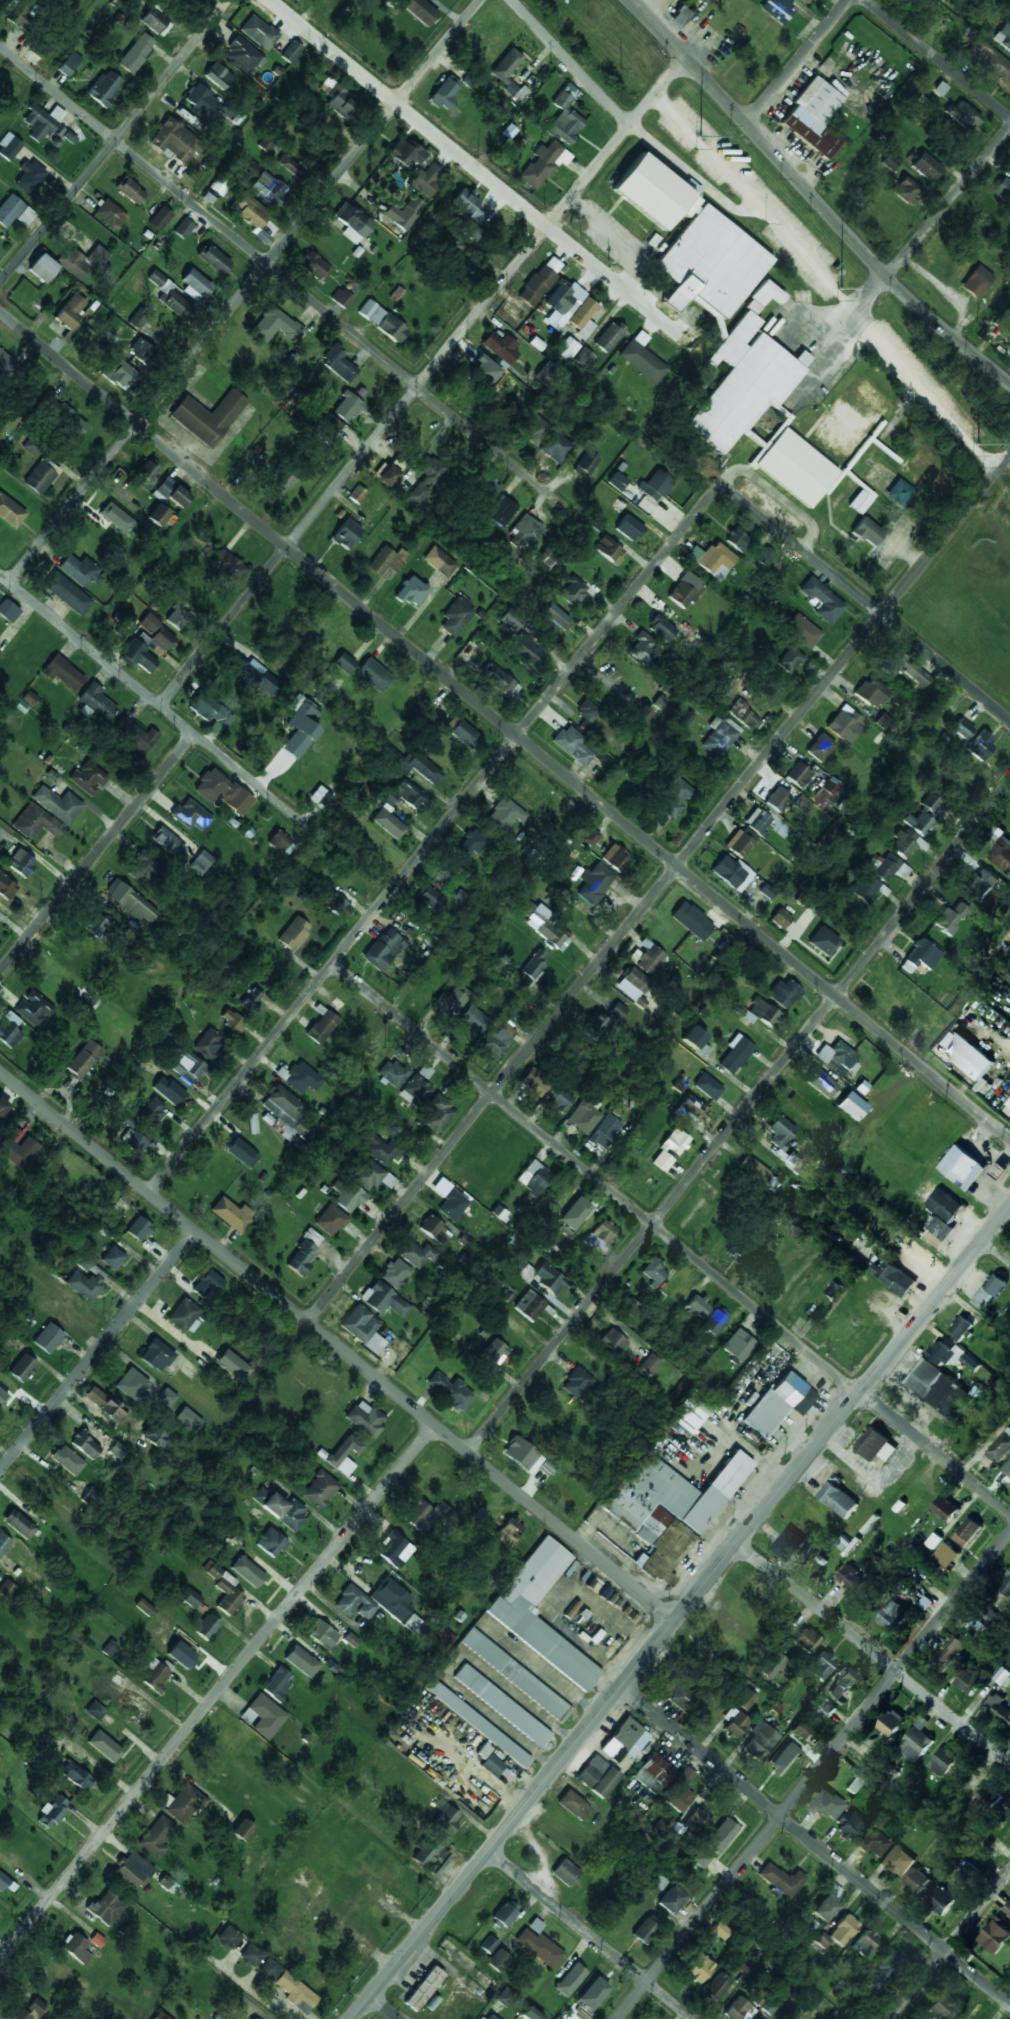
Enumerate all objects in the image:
building: (185, 0)
building: (806, 1)
building: (777, 9)
building: (420, 10)
building: (23, 14)
building: (680, 17)
building: (155, 23)
building: (259, 33)
building: (1003, 36)
building: (291, 52)
building: (136, 53)
building: (243, 55)
road: (938, 58)
road: (572, 62)
road: (797, 62)
building: (992, 63)
building: (69, 64)
building: (506, 65)
building: (218, 76)
building: (104, 88)
building: (939, 89)
building: (570, 91)
building: (445, 93)
building: (201, 103)
building: (341, 104)
building: (963, 115)
building: (813, 117)
building: (564, 120)
building: (43, 122)
power tower: (700, 138)
building: (175, 141)
road: (114, 142)
building: (9, 147)
building: (406, 153)
building: (889, 162)
building: (544, 164)
building: (290, 166)
building: (926, 166)
building: (1008, 168)
road: (485, 175)
building: (29, 177)
building: (428, 179)
building: (220, 184)
building: (268, 189)
building: (1003, 189)
building: (130, 191)
building: (907, 191)
building: (654, 192)
road: (813, 197)
road: (949, 203)
building: (467, 206)
building: (10, 210)
building: (250, 212)
building: (404, 213)
building: (110, 214)
building: (160, 219)
building: (352, 223)
building: (183, 228)
building: (471, 230)
building: (214, 259)
building: (82, 261)
building: (711, 264)
building: (314, 266)
building: (43, 269)
road: (274, 271)
building: (540, 281)
building: (976, 282)
building: (194, 284)
power tower: (840, 289)
road: (245, 291)
building: (341, 297)
building: (563, 304)
building: (177, 305)
building: (73, 313)
building: (583, 318)
building: (382, 321)
building: (276, 326)
building: (608, 337)
building: (567, 346)
building: (500, 347)
building: (141, 351)
building: (583, 358)
building: (642, 359)
building: (7, 363)
building: (339, 365)
building: (483, 371)
building: (120, 374)
building: (745, 377)
road: (422, 382)
building: (874, 397)
building: (347, 407)
building: (62, 414)
building: (208, 417)
building: (532, 427)
building: (842, 427)
building: (32, 446)
building: (556, 446)
power tower: (980, 447)
building: (586, 465)
building: (796, 468)
building: (146, 470)
building: (927, 470)
building: (388, 476)
building: (39, 478)
building: (426, 479)
building: (617, 481)
building: (280, 482)
building: (655, 485)
building: (488, 488)
building: (171, 492)
building: (900, 493)
building: (358, 494)
building: (861, 500)
building: (502, 510)
building: (10, 512)
building: (158, 515)
building: (116, 517)
building: (629, 528)
building: (526, 532)
building: (866, 532)
building: (346, 534)
building: (738, 540)
building: (608, 549)
building: (712, 557)
building: (387, 560)
building: (440, 561)
building: (229, 566)
building: (81, 571)
building: (685, 590)
building: (412, 591)
building: (574, 592)
building: (67, 593)
building: (822, 600)
road: (867, 602)
building: (8, 611)
building: (178, 615)
building: (456, 616)
building: (556, 616)
building: (511, 619)
building: (149, 623)
building: (660, 628)
building: (802, 631)
road: (81, 640)
building: (310, 642)
building: (147, 649)
building: (644, 649)
building: (526, 650)
building: (790, 659)
building: (344, 663)
building: (903, 668)
building: (62, 673)
building: (374, 675)
building: (252, 676)
building: (501, 682)
building: (872, 692)
building: (96, 702)
building: (658, 702)
building: (210, 713)
building: (587, 714)
building: (640, 715)
building: (743, 715)
road: (179, 721)
building: (885, 723)
road: (504, 724)
building: (845, 725)
building: (300, 728)
building: (962, 729)
building: (461, 731)
building: (135, 735)
building: (719, 736)
building: (572, 745)
building: (981, 746)
building: (821, 747)
building: (418, 766)
building: (799, 775)
building: (88, 778)
road: (255, 784)
building: (222, 791)
building: (409, 794)
building: (828, 794)
building: (674, 798)
building: (777, 799)
building: (57, 804)
building: (190, 815)
building: (503, 815)
building: (922, 816)
building: (757, 821)
building: (35, 822)
building: (388, 822)
road: (435, 838)
building: (591, 838)
building: (168, 842)
building: (742, 842)
building: (281, 843)
building: (471, 843)
building: (906, 843)
road: (98, 853)
building: (1001, 853)
building: (615, 858)
building: (200, 862)
building: (21, 863)
building: (142, 867)
building: (887, 867)
building: (732, 873)
building: (594, 883)
building: (981, 883)
building: (7, 887)
building: (868, 888)
road: (658, 889)
building: (767, 891)
building: (430, 899)
building: (129, 901)
building: (339, 906)
building: (525, 906)
building: (781, 918)
building: (950, 918)
building: (692, 920)
building: (97, 926)
building: (549, 930)
building: (294, 933)
building: (823, 941)
building: (384, 950)
building: (920, 956)
building: (650, 960)
building: (534, 965)
building: (633, 984)
building: (782, 993)
building: (250, 1000)
building: (450, 1003)
building: (34, 1009)
building: (758, 1012)
building: (232, 1020)
building: (473, 1020)
building: (602, 1021)
building: (321, 1027)
building: (9, 1029)
building: (696, 1040)
building: (497, 1041)
building: (208, 1043)
building: (735, 1054)
building: (966, 1054)
building: (83, 1059)
building: (838, 1059)
building: (186, 1066)
building: (393, 1072)
building: (299, 1077)
building: (535, 1082)
building: (821, 1083)
building: (708, 1087)
building: (168, 1090)
building: (415, 1091)
building: (559, 1100)
building: (1009, 1102)
building: (852, 1106)
building: (3, 1107)
building: (690, 1111)
building: (152, 1113)
building: (286, 1113)
building: (437, 1114)
building: (584, 1115)
road: (739, 1117)
building: (132, 1125)
building: (605, 1131)
building: (133, 1141)
building: (783, 1141)
building: (674, 1143)
building: (19, 1149)
building: (382, 1150)
building: (242, 1153)
building: (662, 1161)
building: (964, 1167)
building: (1000, 1171)
building: (760, 1174)
building: (373, 1176)
building: (533, 1178)
road: (596, 1178)
building: (350, 1198)
building: (450, 1200)
building: (945, 1205)
building: (575, 1213)
building: (230, 1214)
building: (330, 1220)
building: (138, 1228)
building: (941, 1228)
building: (434, 1229)
road: (997, 1248)
building: (737, 1251)
building: (303, 1253)
building: (417, 1254)
building: (113, 1258)
building: (653, 1272)
building: (397, 1274)
building: (538, 1275)
building: (893, 1277)
building: (86, 1282)
building: (208, 1286)
building: (989, 1291)
building: (384, 1299)
building: (66, 1300)
building: (45, 1302)
building: (529, 1305)
building: (697, 1307)
building: (631, 1308)
building: (185, 1315)
building: (714, 1322)
building: (961, 1327)
building: (363, 1328)
building: (48, 1338)
building: (612, 1341)
building: (738, 1345)
road: (337, 1346)
road: (97, 1350)
building: (494, 1351)
building: (156, 1355)
building: (951, 1355)
building: (650, 1364)
building: (232, 1365)
building: (22, 1368)
building: (131, 1384)
building: (578, 1384)
building: (939, 1389)
building: (450, 1391)
building: (167, 1396)
building: (5, 1397)
building: (104, 1403)
building: (778, 1404)
building: (691, 1411)
building: (364, 1418)
building: (188, 1419)
building: (156, 1437)
building: (85, 1445)
building: (112, 1445)
building: (876, 1445)
building: (1000, 1447)
road: (935, 1452)
building: (344, 1455)
building: (522, 1455)
building: (67, 1460)
building: (320, 1489)
building: (93, 1496)
building: (838, 1498)
building: (280, 1508)
building: (668, 1508)
building: (946, 1508)
building: (427, 1516)
building: (19, 1524)
building: (511, 1529)
building: (967, 1532)
building: (4, 1543)
building: (271, 1543)
building: (788, 1544)
building: (394, 1549)
building: (946, 1554)
building: (247, 1571)
building: (214, 1572)
building: (853, 1581)
building: (528, 1585)
building: (1006, 1587)
building: (6, 1589)
building: (228, 1595)
building: (192, 1599)
building: (392, 1600)
building: (355, 1603)
building: (145, 1607)
road: (681, 1613)
building: (895, 1615)
building: (414, 1624)
building: (207, 1627)
building: (322, 1634)
building: (444, 1635)
building: (351, 1639)
building: (806, 1640)
building: (949, 1652)
road: (873, 1654)
building: (301, 1661)
building: (821, 1665)
building: (772, 1666)
building: (515, 1675)
building: (156, 1676)
building: (1005, 1676)
building: (971, 1680)
building: (278, 1683)
building: (843, 1684)
road: (218, 1694)
building: (678, 1695)
building: (744, 1699)
building: (502, 1705)
building: (997, 1707)
building: (827, 1708)
building: (95, 1709)
building: (132, 1709)
building: (263, 1716)
building: (477, 1723)
building: (733, 1723)
building: (891, 1724)
building: (624, 1741)
building: (917, 1741)
building: (759, 1742)
building: (104, 1746)
building: (786, 1751)
building: (943, 1761)
building: (492, 1765)
building: (657, 1769)
building: (75, 1775)
building: (597, 1776)
road: (813, 1776)
building: (855, 1783)
building: (679, 1791)
building: (987, 1798)
building: (182, 1803)
building: (573, 1805)
building: (828, 1805)
building: (1007, 1808)
building: (52, 1811)
building: (446, 1820)
building: (850, 1824)
building: (690, 1825)
building: (242, 1830)
building: (720, 1836)
building: (156, 1837)
building: (874, 1843)
road: (815, 1845)
building: (430, 1851)
building: (701, 1858)
building: (897, 1861)
building: (133, 1870)
building: (968, 1870)
building: (566, 1873)
building: (781, 1880)
building: (915, 1880)
building: (659, 1882)
building: (6, 1884)
building: (671, 1900)
building: (942, 1900)
building: (106, 1908)
building: (825, 1908)
building: (1007, 1908)
building: (506, 1913)
building: (535, 1926)
building: (646, 1930)
building: (720, 1931)
building: (839, 1932)
road: (591, 1935)
building: (995, 1935)
building: (229, 1937)
building: (865, 1942)
road: (948, 1943)
building: (488, 1945)
building: (540, 1948)
building: (77, 1949)
building: (252, 1955)
building: (497, 1961)
building: (698, 1968)
building: (269, 1970)
building: (884, 1971)
building: (570, 1980)
building: (717, 1986)
building: (597, 1987)
building: (424, 1988)
building: (294, 1990)
road: (386, 2007)
building: (940, 2007)
building: (737, 2009)
building: (23, 2011)
building: (531, 2014)
building: (491, 2017)
building: (253, 2018)
building: (480, 2018)
building: (572, 2018)

